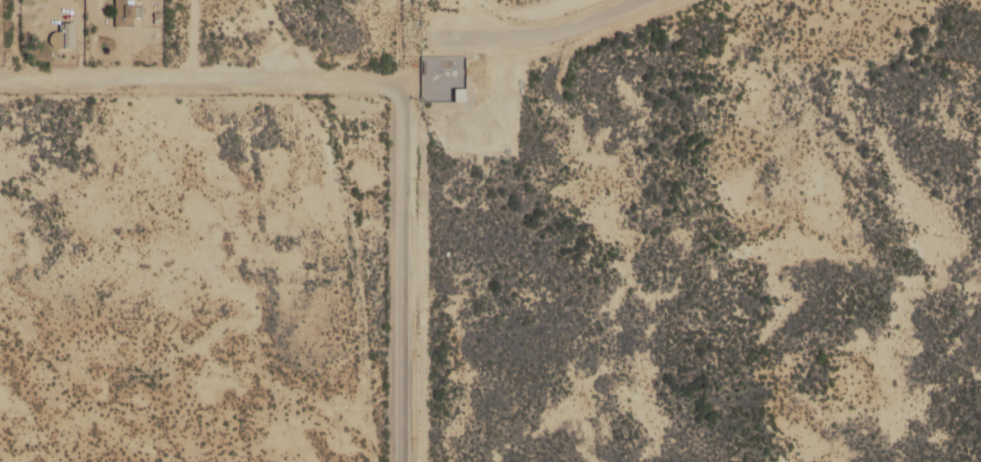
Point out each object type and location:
building: (122, 14)
building: (62, 37)
road: (407, 43)
road: (161, 77)
road: (405, 188)

